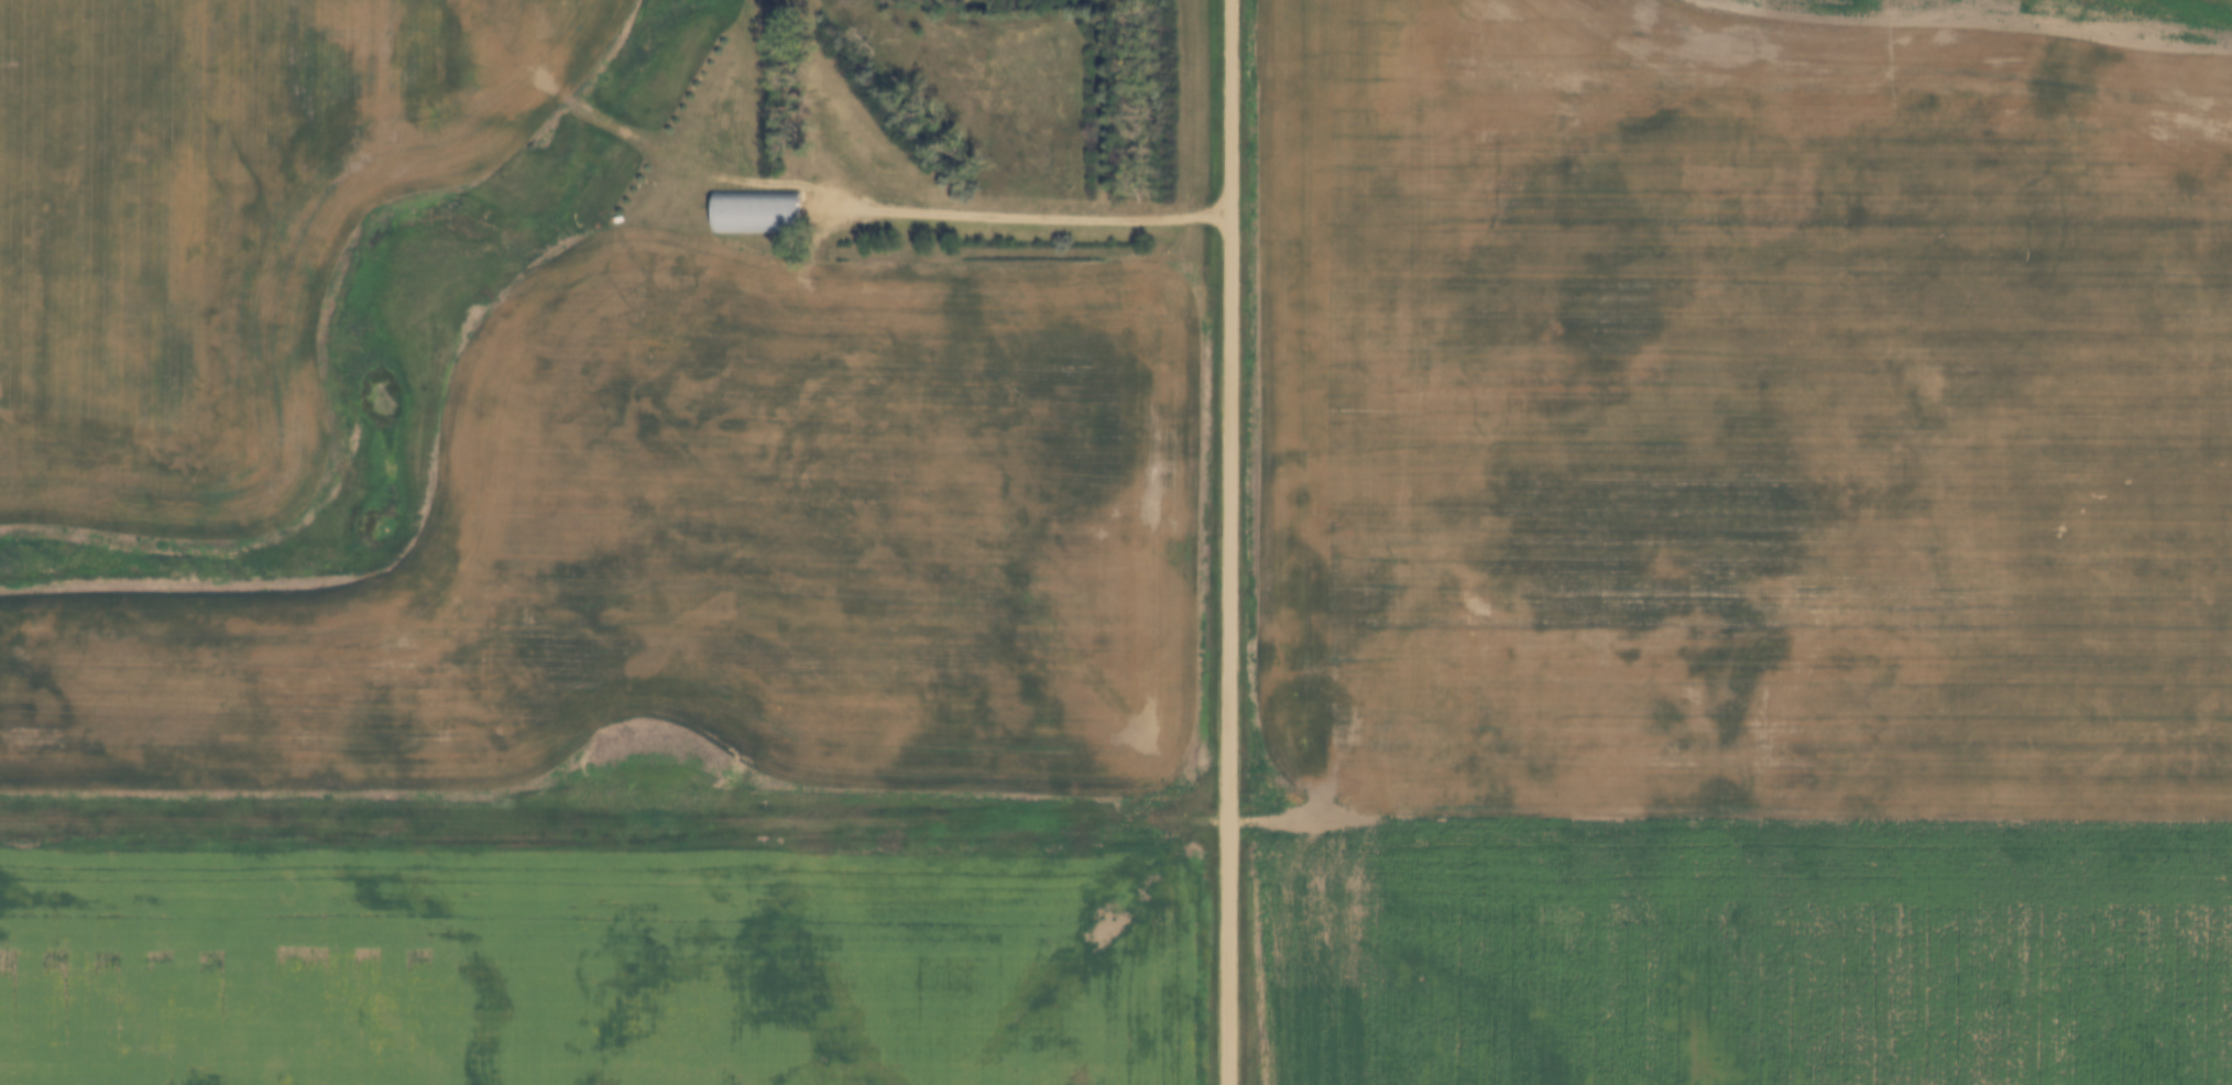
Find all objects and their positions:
building: (757, 210)
road: (1019, 215)
road: (1229, 541)
road: (615, 821)

